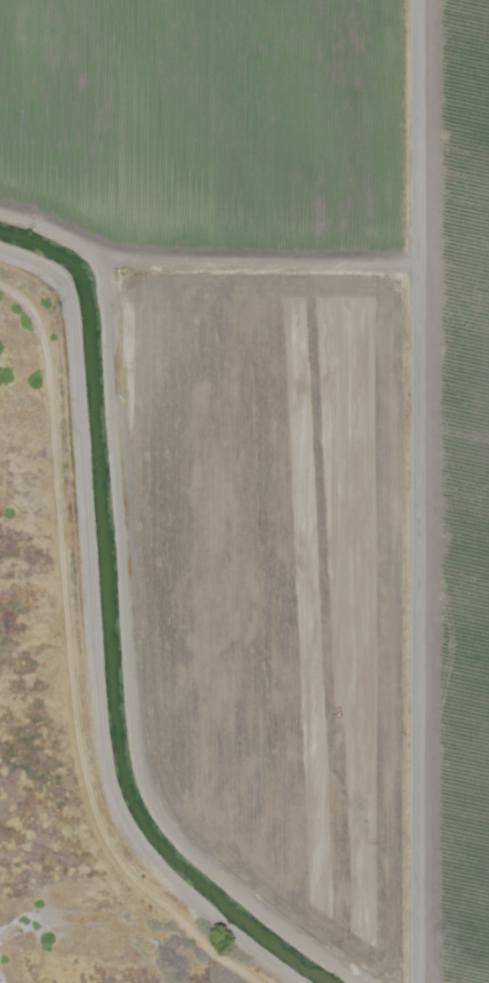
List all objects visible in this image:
crop: (290, 428)
road: (415, 491)

